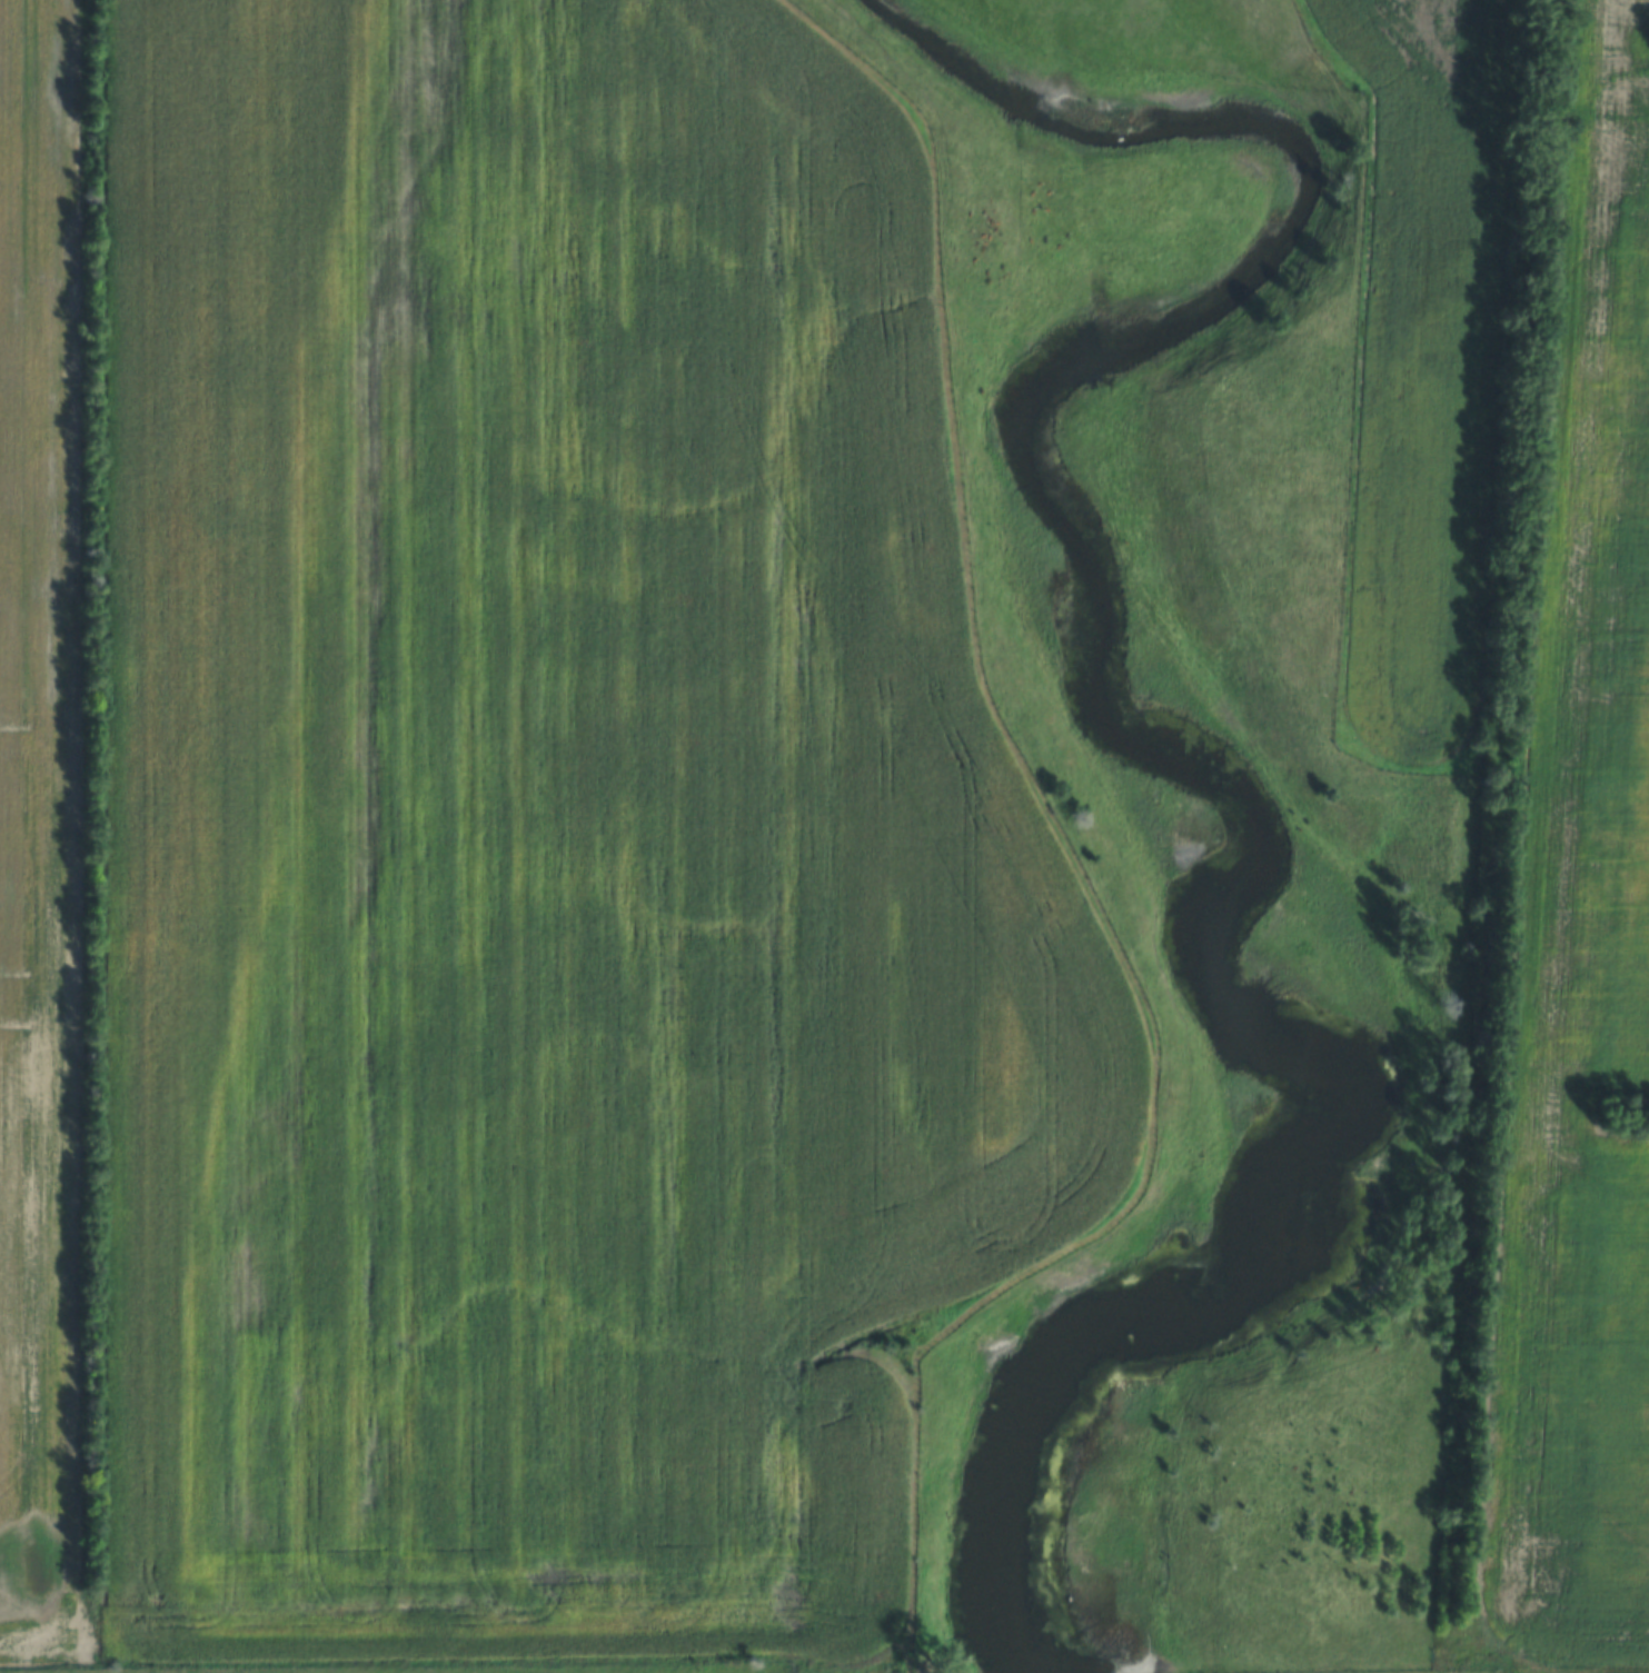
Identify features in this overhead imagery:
road: (1579, 1656)

